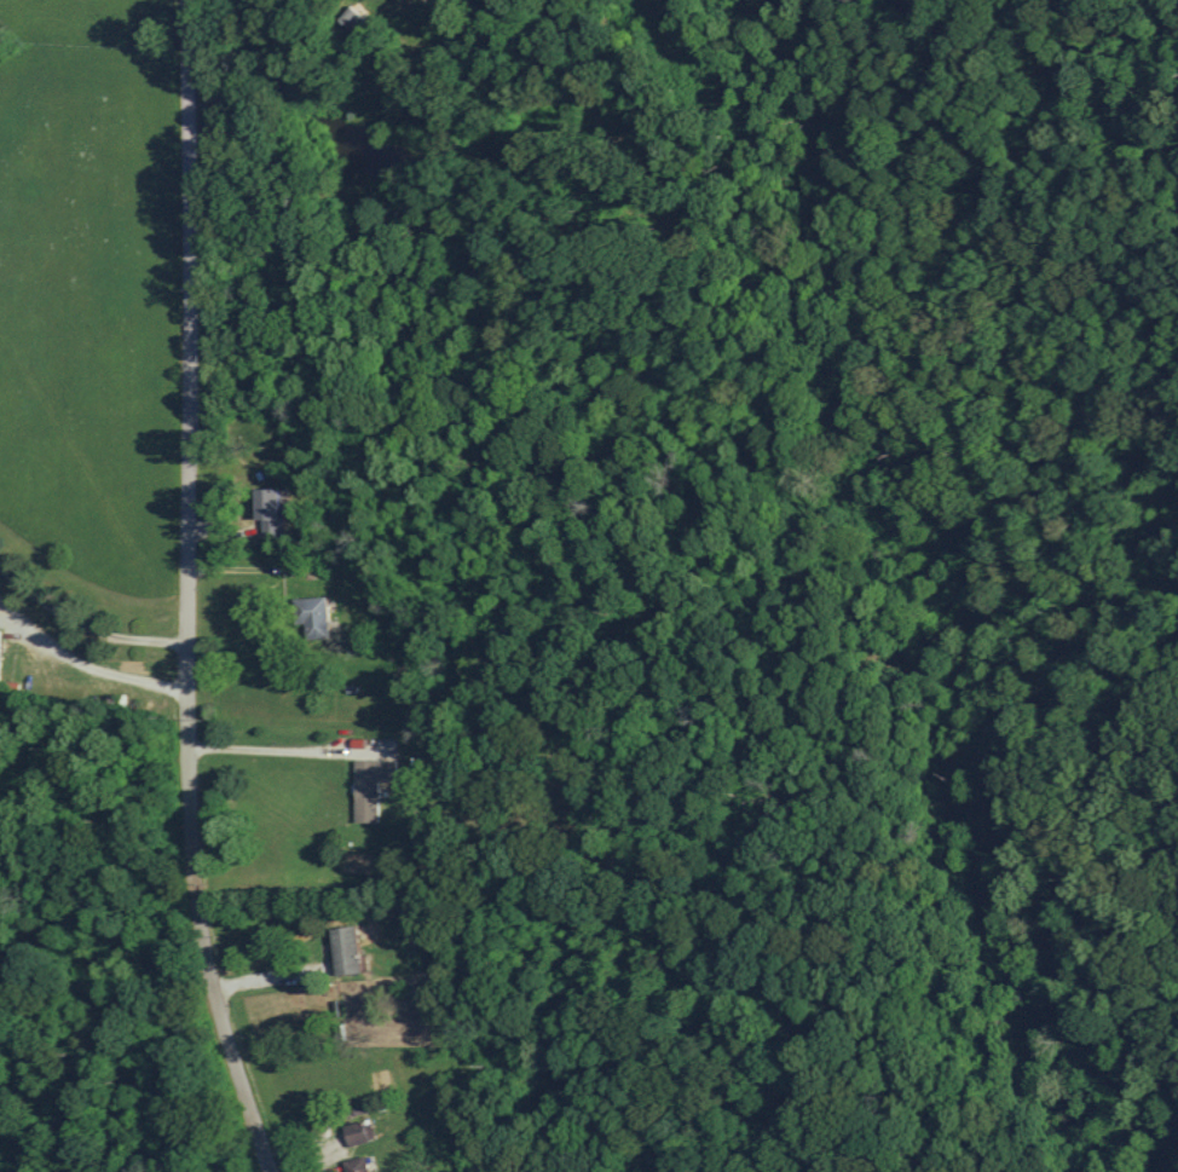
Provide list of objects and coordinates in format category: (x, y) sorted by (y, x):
building: (350, 19)
building: (267, 509)
road: (285, 565)
road: (190, 591)
building: (311, 616)
road: (87, 623)
road: (94, 669)
road: (305, 747)
building: (369, 785)
building: (343, 949)
building: (357, 1132)
building: (354, 1165)

